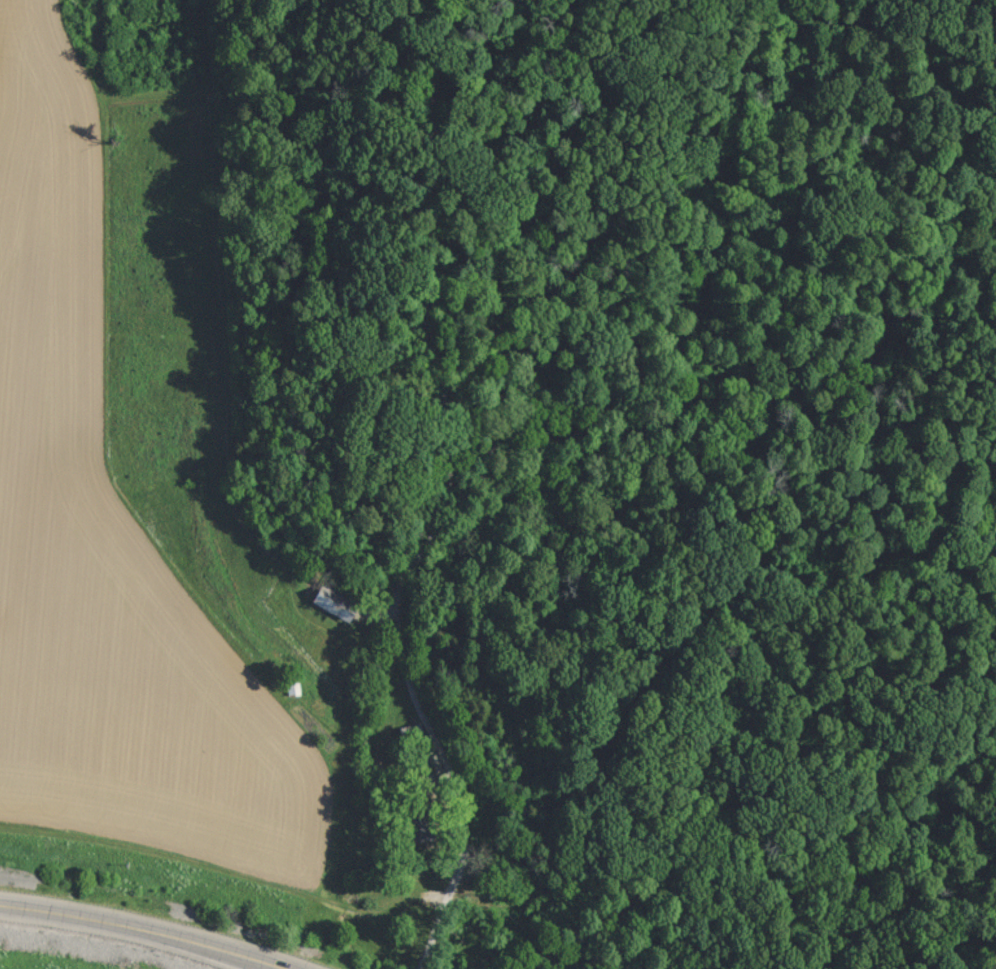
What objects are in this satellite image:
road: (446, 499)
building: (293, 688)
road: (139, 932)

